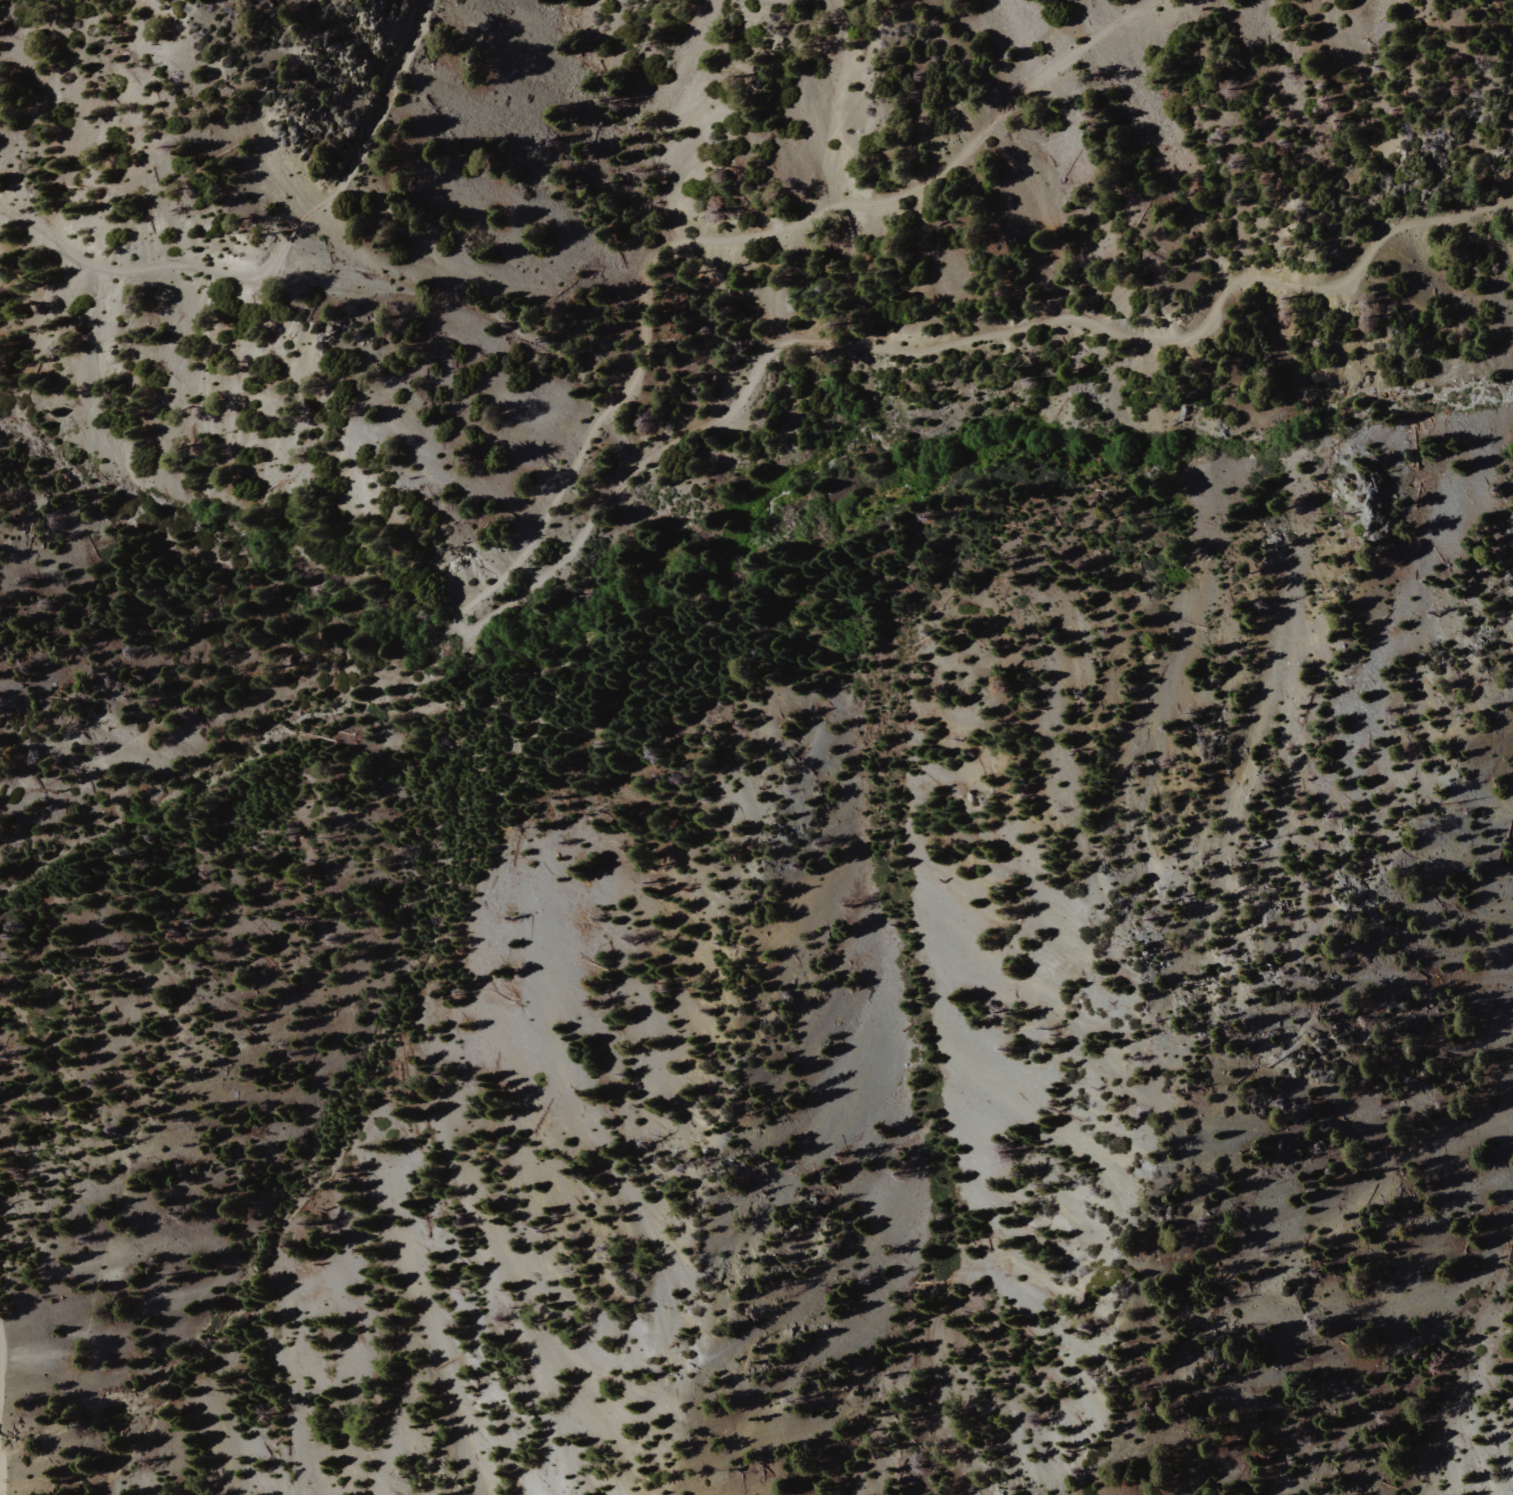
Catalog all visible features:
road: (773, 2)
road: (274, 252)
road: (546, 573)

